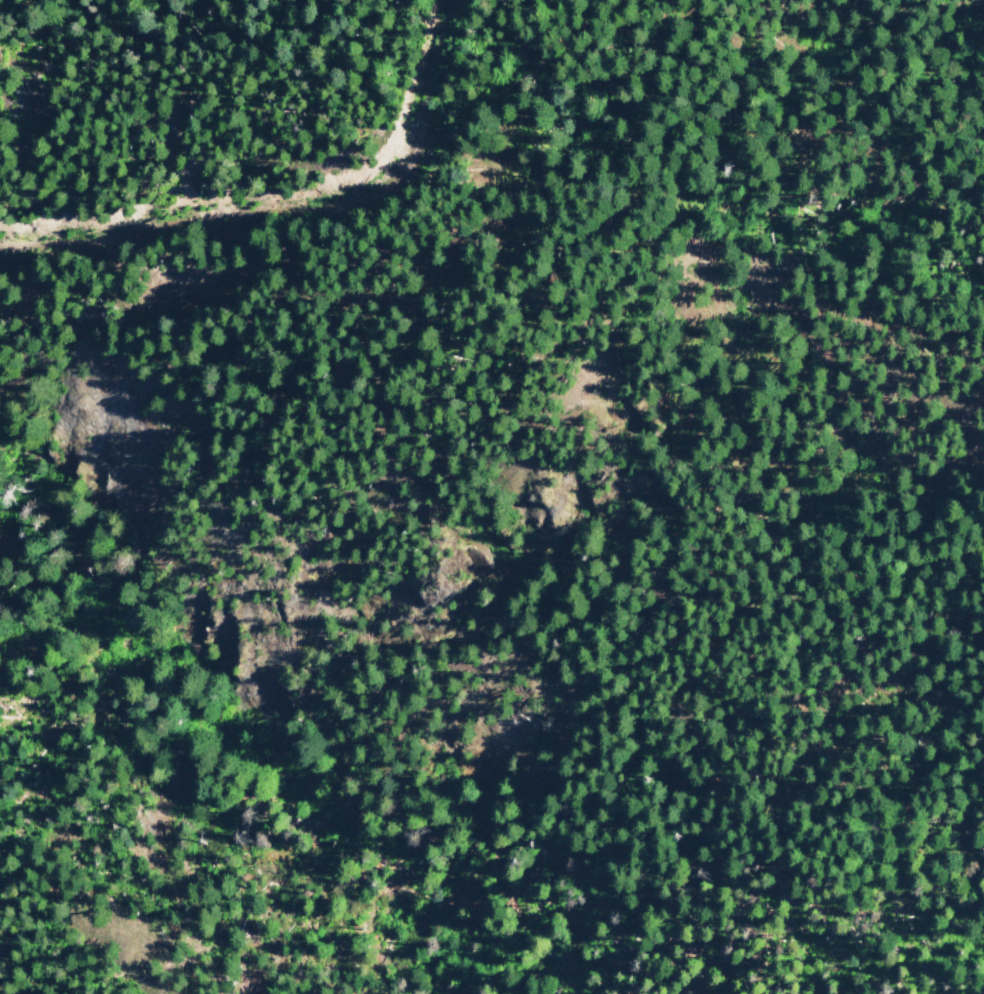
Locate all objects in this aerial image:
road: (254, 204)

